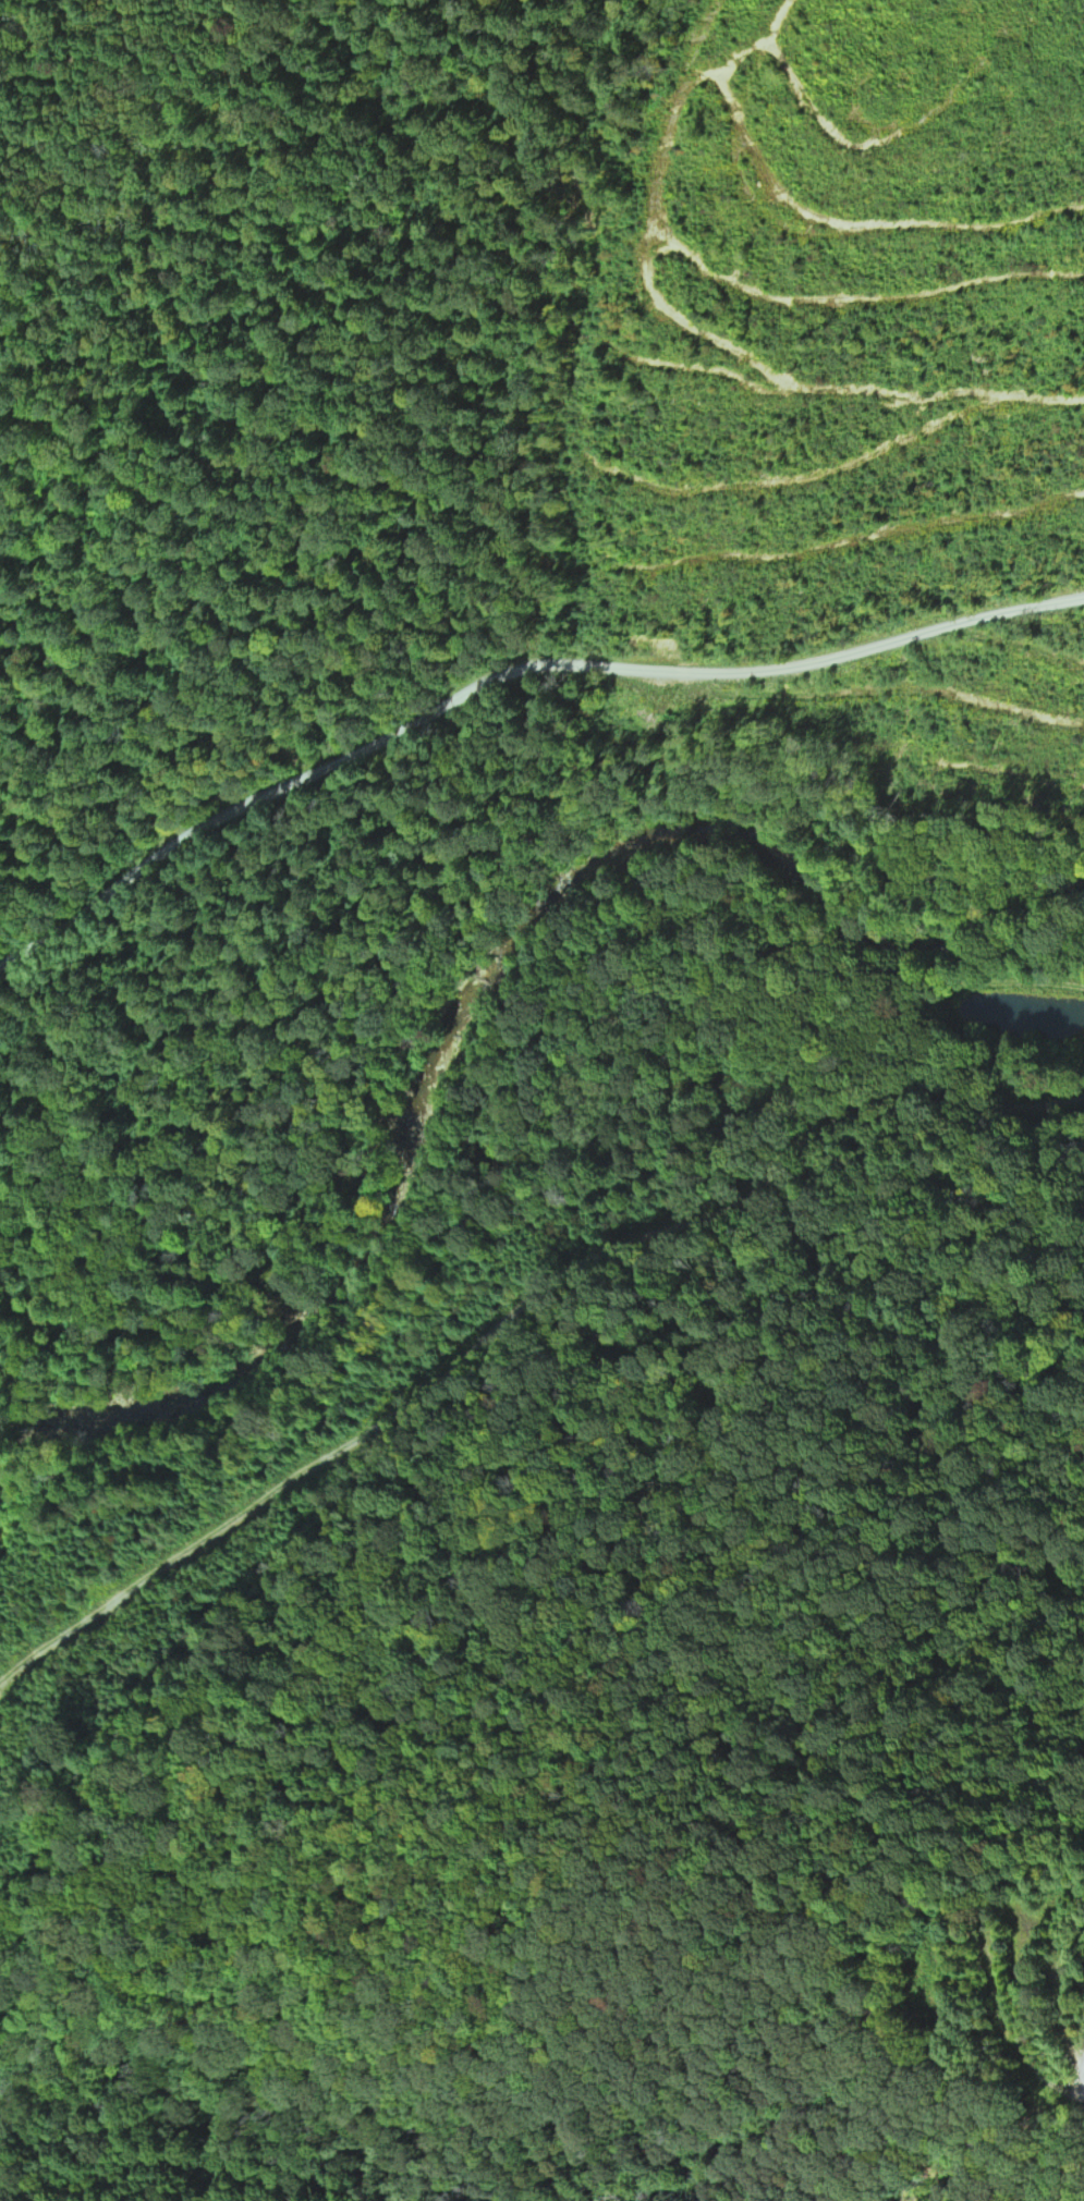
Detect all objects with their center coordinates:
road: (517, 754)

